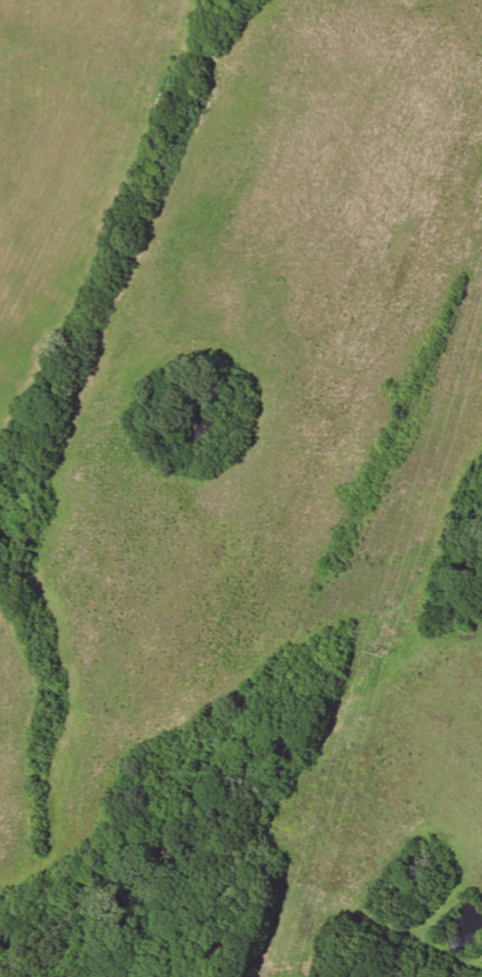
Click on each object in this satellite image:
power tower: (384, 652)

